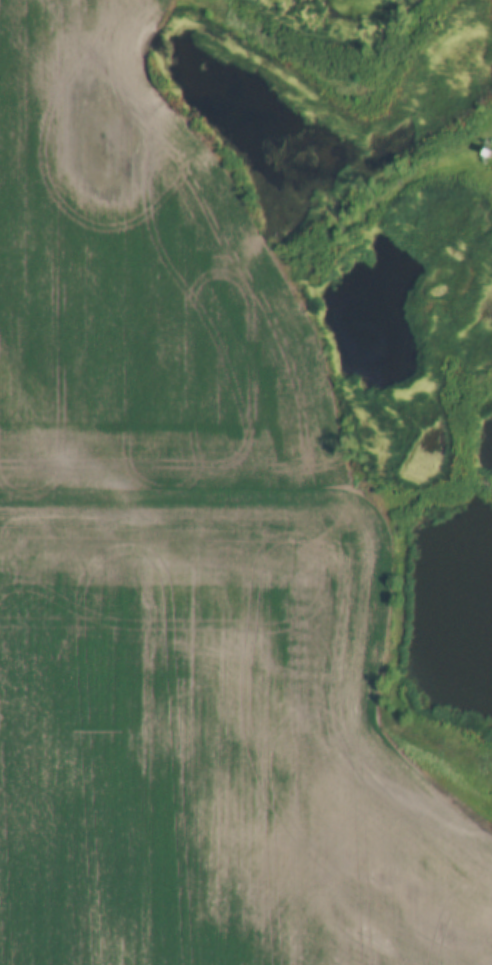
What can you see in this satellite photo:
quarry: (439, 636)

